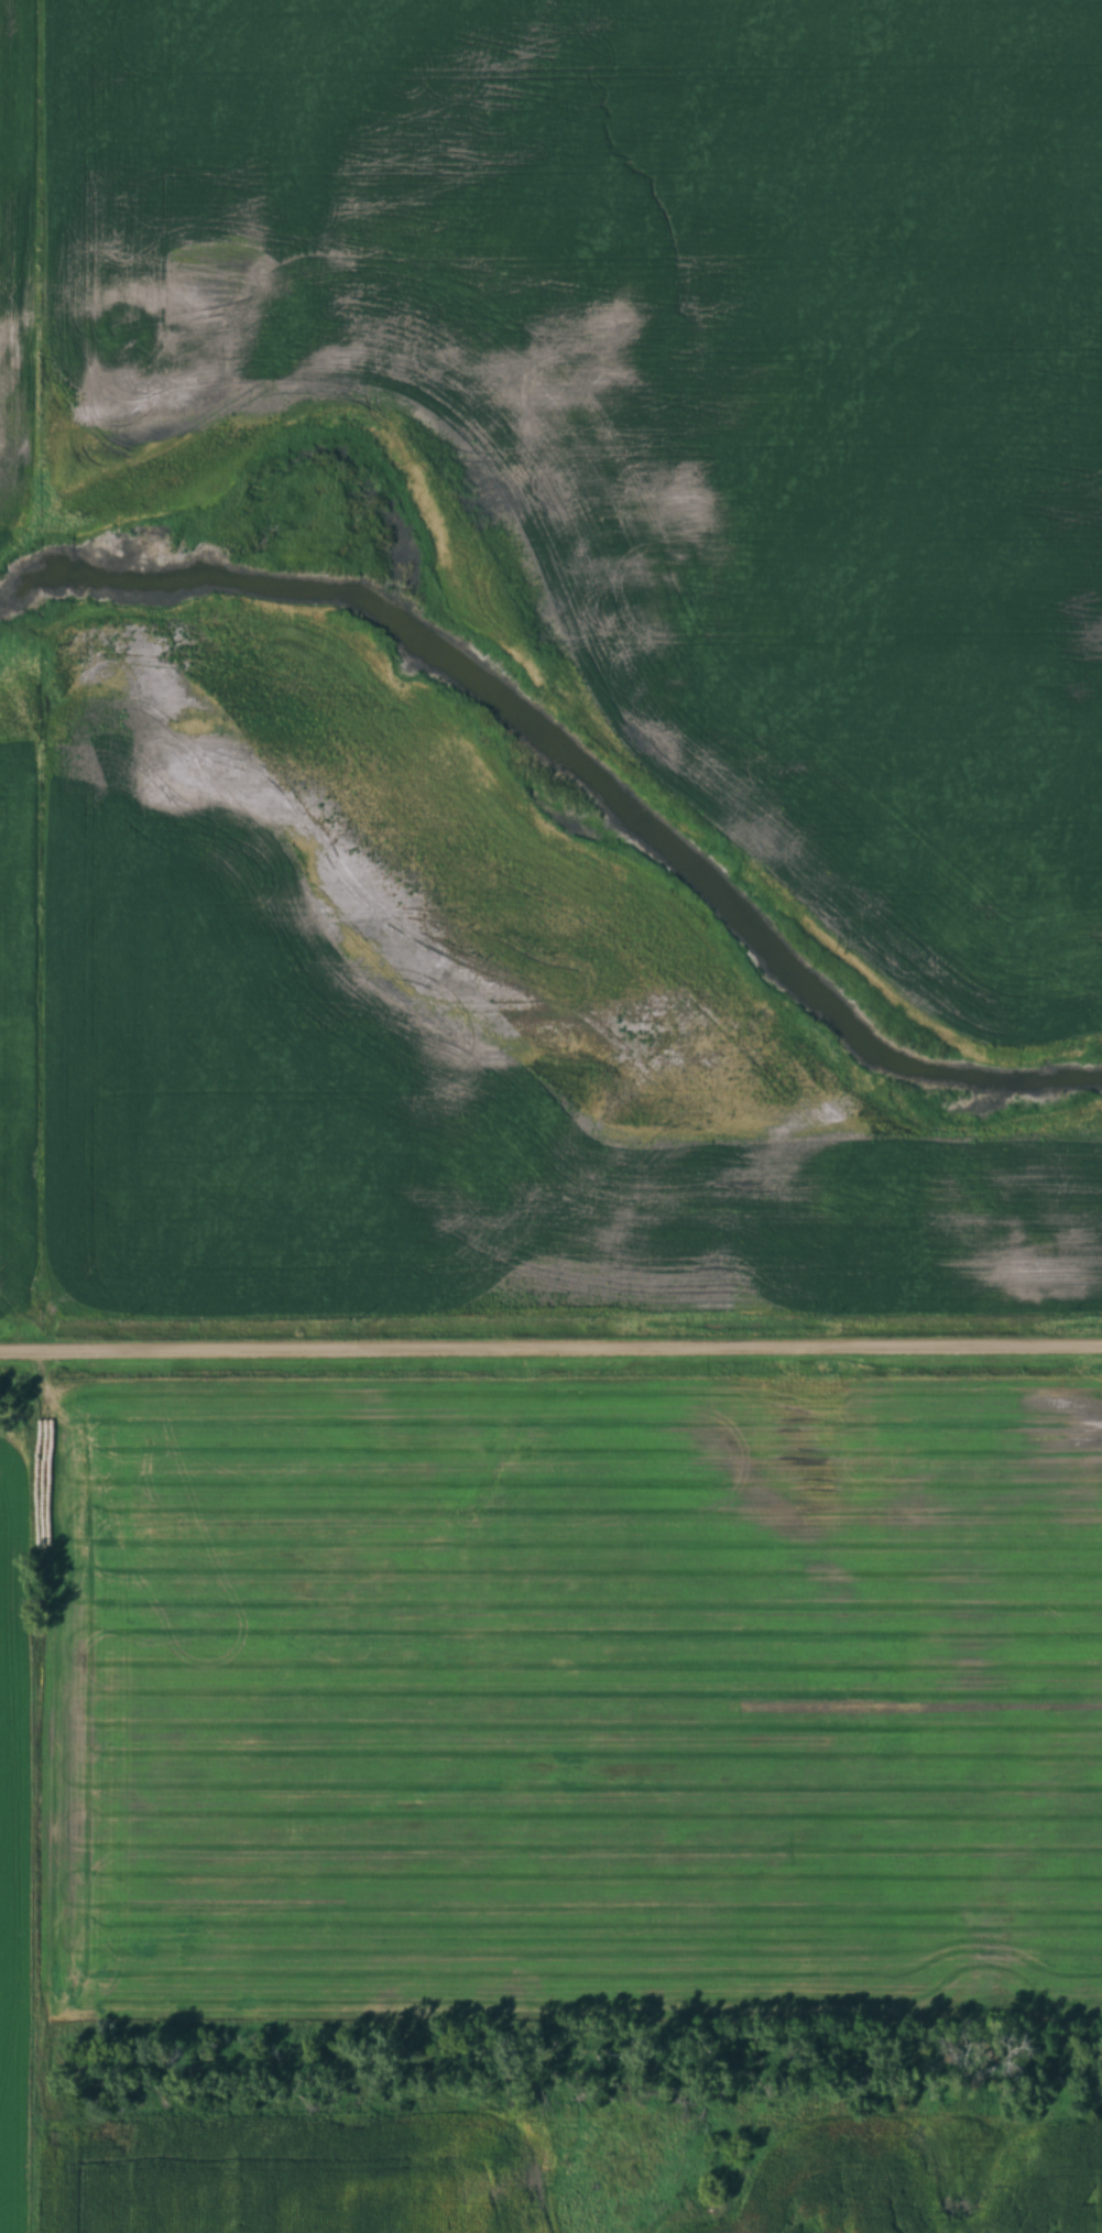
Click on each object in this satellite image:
road: (550, 1350)

